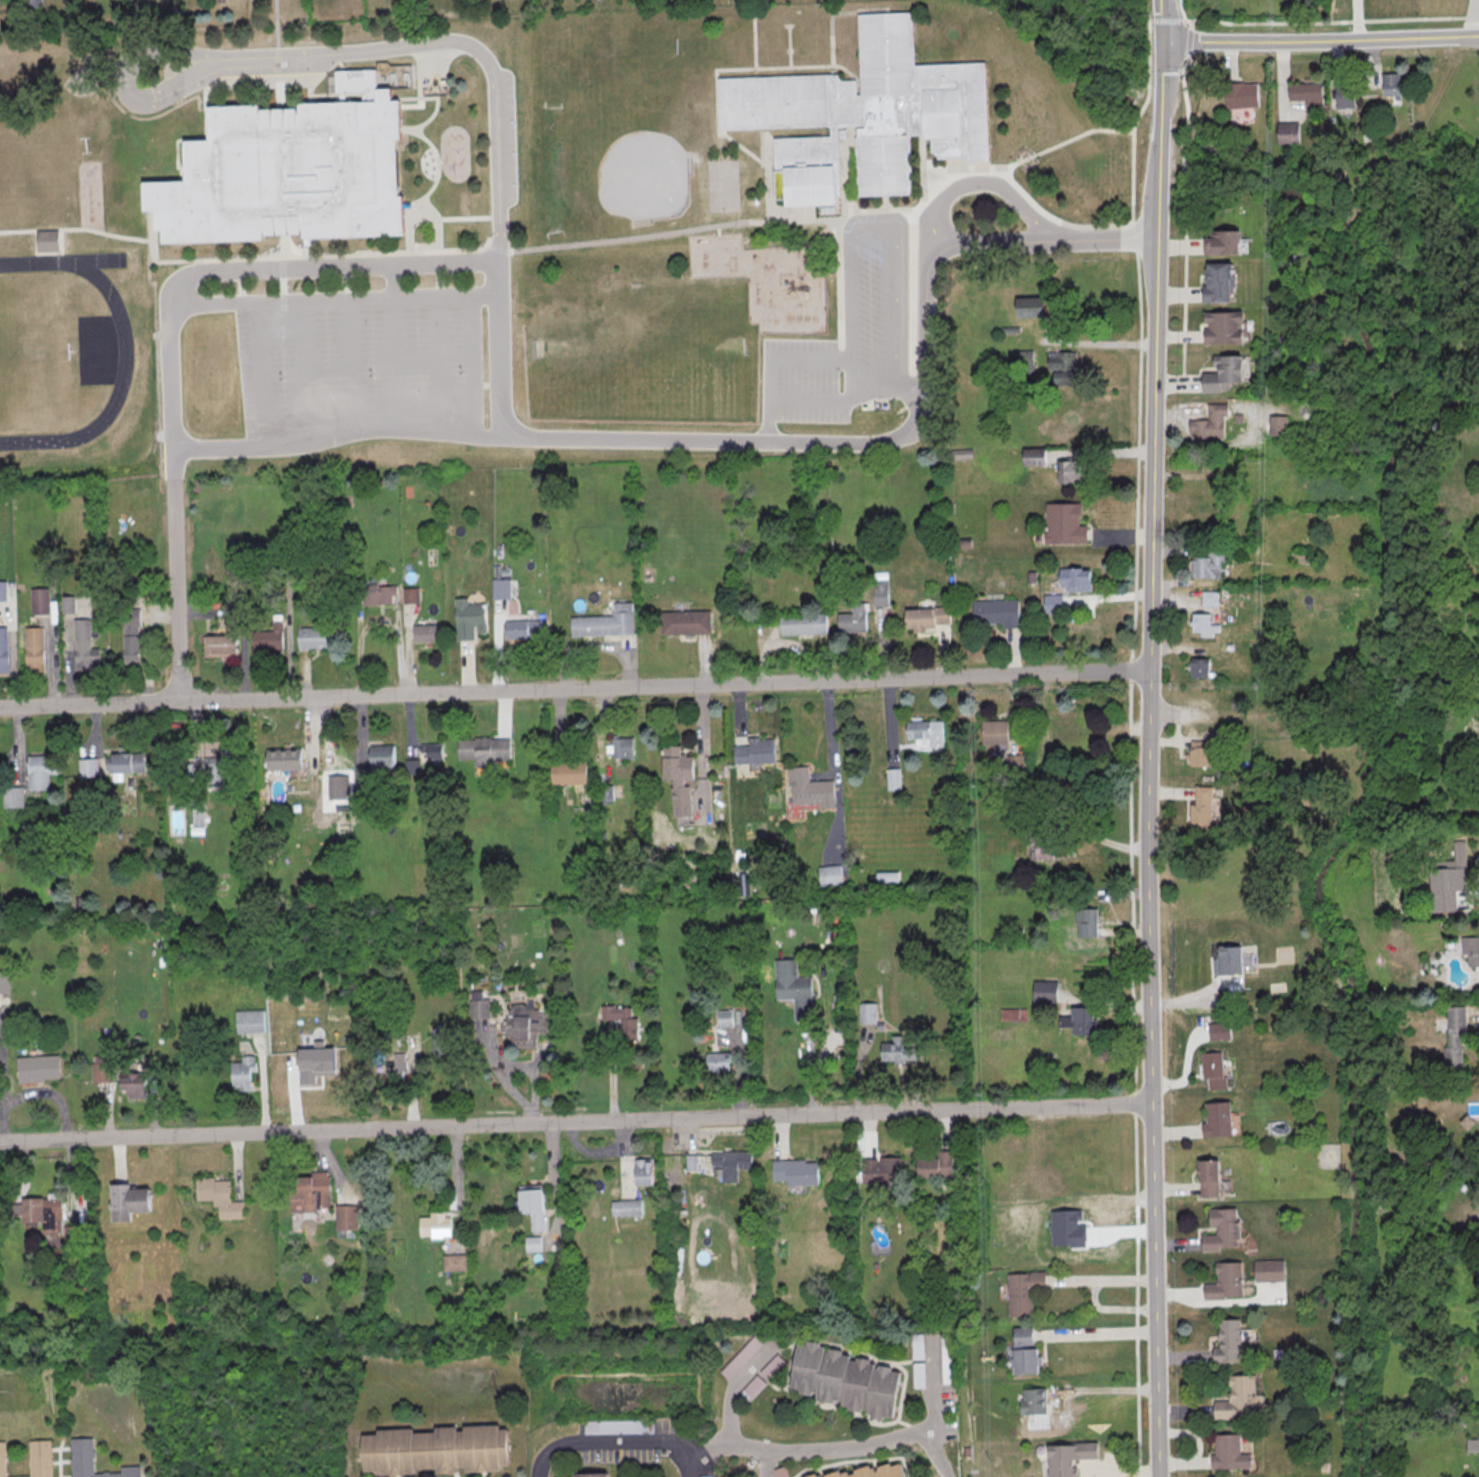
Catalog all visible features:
road: (1163, 20)
road: (1322, 38)
traffic signals: (1165, 42)
road: (157, 52)
road: (277, 56)
road: (755, 73)
building: (1389, 86)
road: (175, 89)
building: (1304, 92)
building: (1238, 94)
building: (1343, 94)
road: (715, 104)
road: (493, 115)
building: (866, 116)
building: (1285, 132)
park: (503, 139)
road: (1065, 140)
park: (629, 164)
building: (290, 172)
park: (724, 187)
road: (1004, 188)
road: (1182, 195)
road: (1058, 219)
road: (896, 224)
road: (82, 229)
road: (944, 235)
building: (1218, 241)
building: (50, 242)
road: (561, 246)
road: (49, 252)
road: (282, 263)
road: (253, 271)
building: (1214, 281)
road: (305, 303)
building: (1031, 306)
road: (855, 307)
road: (889, 323)
building: (1220, 327)
parking lot: (847, 344)
park: (643, 347)
road: (396, 349)
park: (61, 350)
park: (35, 351)
road: (442, 361)
parking lot: (361, 362)
road: (351, 363)
building: (1064, 365)
building: (1220, 373)
road: (261, 374)
road: (770, 386)
road: (908, 388)
building: (1211, 423)
building: (1279, 425)
road: (749, 442)
building: (1034, 456)
building: (1071, 470)
building: (1062, 524)
building: (256, 549)
building: (1209, 565)
building: (212, 567)
road: (177, 576)
building: (233, 578)
building: (1075, 578)
road: (1133, 583)
building: (499, 587)
building: (6, 591)
building: (878, 592)
building: (375, 593)
building: (408, 594)
building: (1210, 597)
building: (37, 600)
building: (1053, 603)
building: (68, 604)
building: (994, 612)
building: (467, 617)
building: (924, 618)
building: (851, 619)
building: (684, 621)
building: (603, 622)
building: (801, 623)
building: (1204, 625)
building: (516, 628)
building: (425, 632)
building: (131, 634)
building: (310, 635)
building: (266, 639)
building: (220, 643)
building: (82, 645)
building: (31, 648)
building: (2, 649)
road: (702, 658)
road: (464, 665)
building: (1199, 667)
road: (575, 688)
road: (737, 714)
road: (502, 715)
building: (995, 732)
building: (923, 733)
building: (1068, 735)
building: (620, 747)
building: (481, 748)
building: (430, 750)
building: (1201, 751)
building: (753, 752)
building: (380, 756)
building: (283, 759)
road: (1148, 759)
building: (219, 761)
building: (124, 762)
building: (1039, 764)
building: (89, 767)
building: (38, 770)
road: (834, 772)
building: (567, 773)
building: (680, 778)
building: (891, 779)
building: (360, 782)
building: (337, 787)
building: (807, 788)
building: (11, 797)
building: (1198, 810)
building: (199, 816)
road: (1056, 825)
building: (1041, 844)
building: (827, 875)
building: (1455, 877)
building: (1088, 922)
building: (1470, 950)
building: (1227, 960)
building: (3, 982)
building: (791, 988)
building: (1045, 991)
building: (477, 1008)
building: (865, 1013)
building: (1013, 1014)
building: (729, 1017)
building: (248, 1021)
building: (619, 1021)
building: (1082, 1021)
building: (522, 1025)
building: (1217, 1031)
building: (1455, 1035)
building: (440, 1040)
building: (896, 1051)
building: (718, 1062)
building: (395, 1065)
road: (857, 1067)
building: (35, 1068)
road: (608, 1070)
building: (1211, 1070)
building: (99, 1072)
building: (241, 1072)
road: (498, 1074)
road: (259, 1081)
building: (131, 1085)
road: (47, 1093)
road: (150, 1102)
road: (103, 1109)
building: (1215, 1119)
road: (575, 1122)
road: (942, 1131)
road: (868, 1136)
road: (689, 1137)
road: (777, 1138)
road: (623, 1160)
road: (117, 1161)
building: (689, 1163)
building: (729, 1163)
building: (933, 1165)
road: (234, 1167)
road: (330, 1167)
building: (641, 1172)
building: (793, 1172)
building: (879, 1175)
building: (1206, 1177)
road: (553, 1188)
road: (1176, 1188)
road: (454, 1190)
building: (307, 1193)
building: (217, 1197)
building: (126, 1202)
building: (530, 1205)
building: (628, 1207)
building: (40, 1213)
building: (345, 1217)
building: (433, 1225)
building: (1220, 1228)
road: (1177, 1243)
building: (531, 1244)
building: (454, 1262)
building: (1267, 1271)
building: (1223, 1281)
building: (1021, 1292)
road: (1191, 1293)
road: (1216, 1302)
road: (1094, 1333)
building: (1229, 1340)
building: (917, 1346)
building: (1022, 1351)
building: (742, 1357)
building: (773, 1367)
building: (919, 1374)
building: (843, 1380)
building: (756, 1385)
road: (734, 1390)
building: (1235, 1396)
building: (1031, 1401)
building: (619, 1426)
building: (1472, 1444)
building: (437, 1449)
road: (764, 1449)
road: (935, 1452)
building: (1227, 1453)
building: (1067, 1457)
building: (33, 1458)
building: (93, 1461)
road: (690, 1468)
building: (875, 1470)
building: (592, 1474)
building: (707, 1476)

